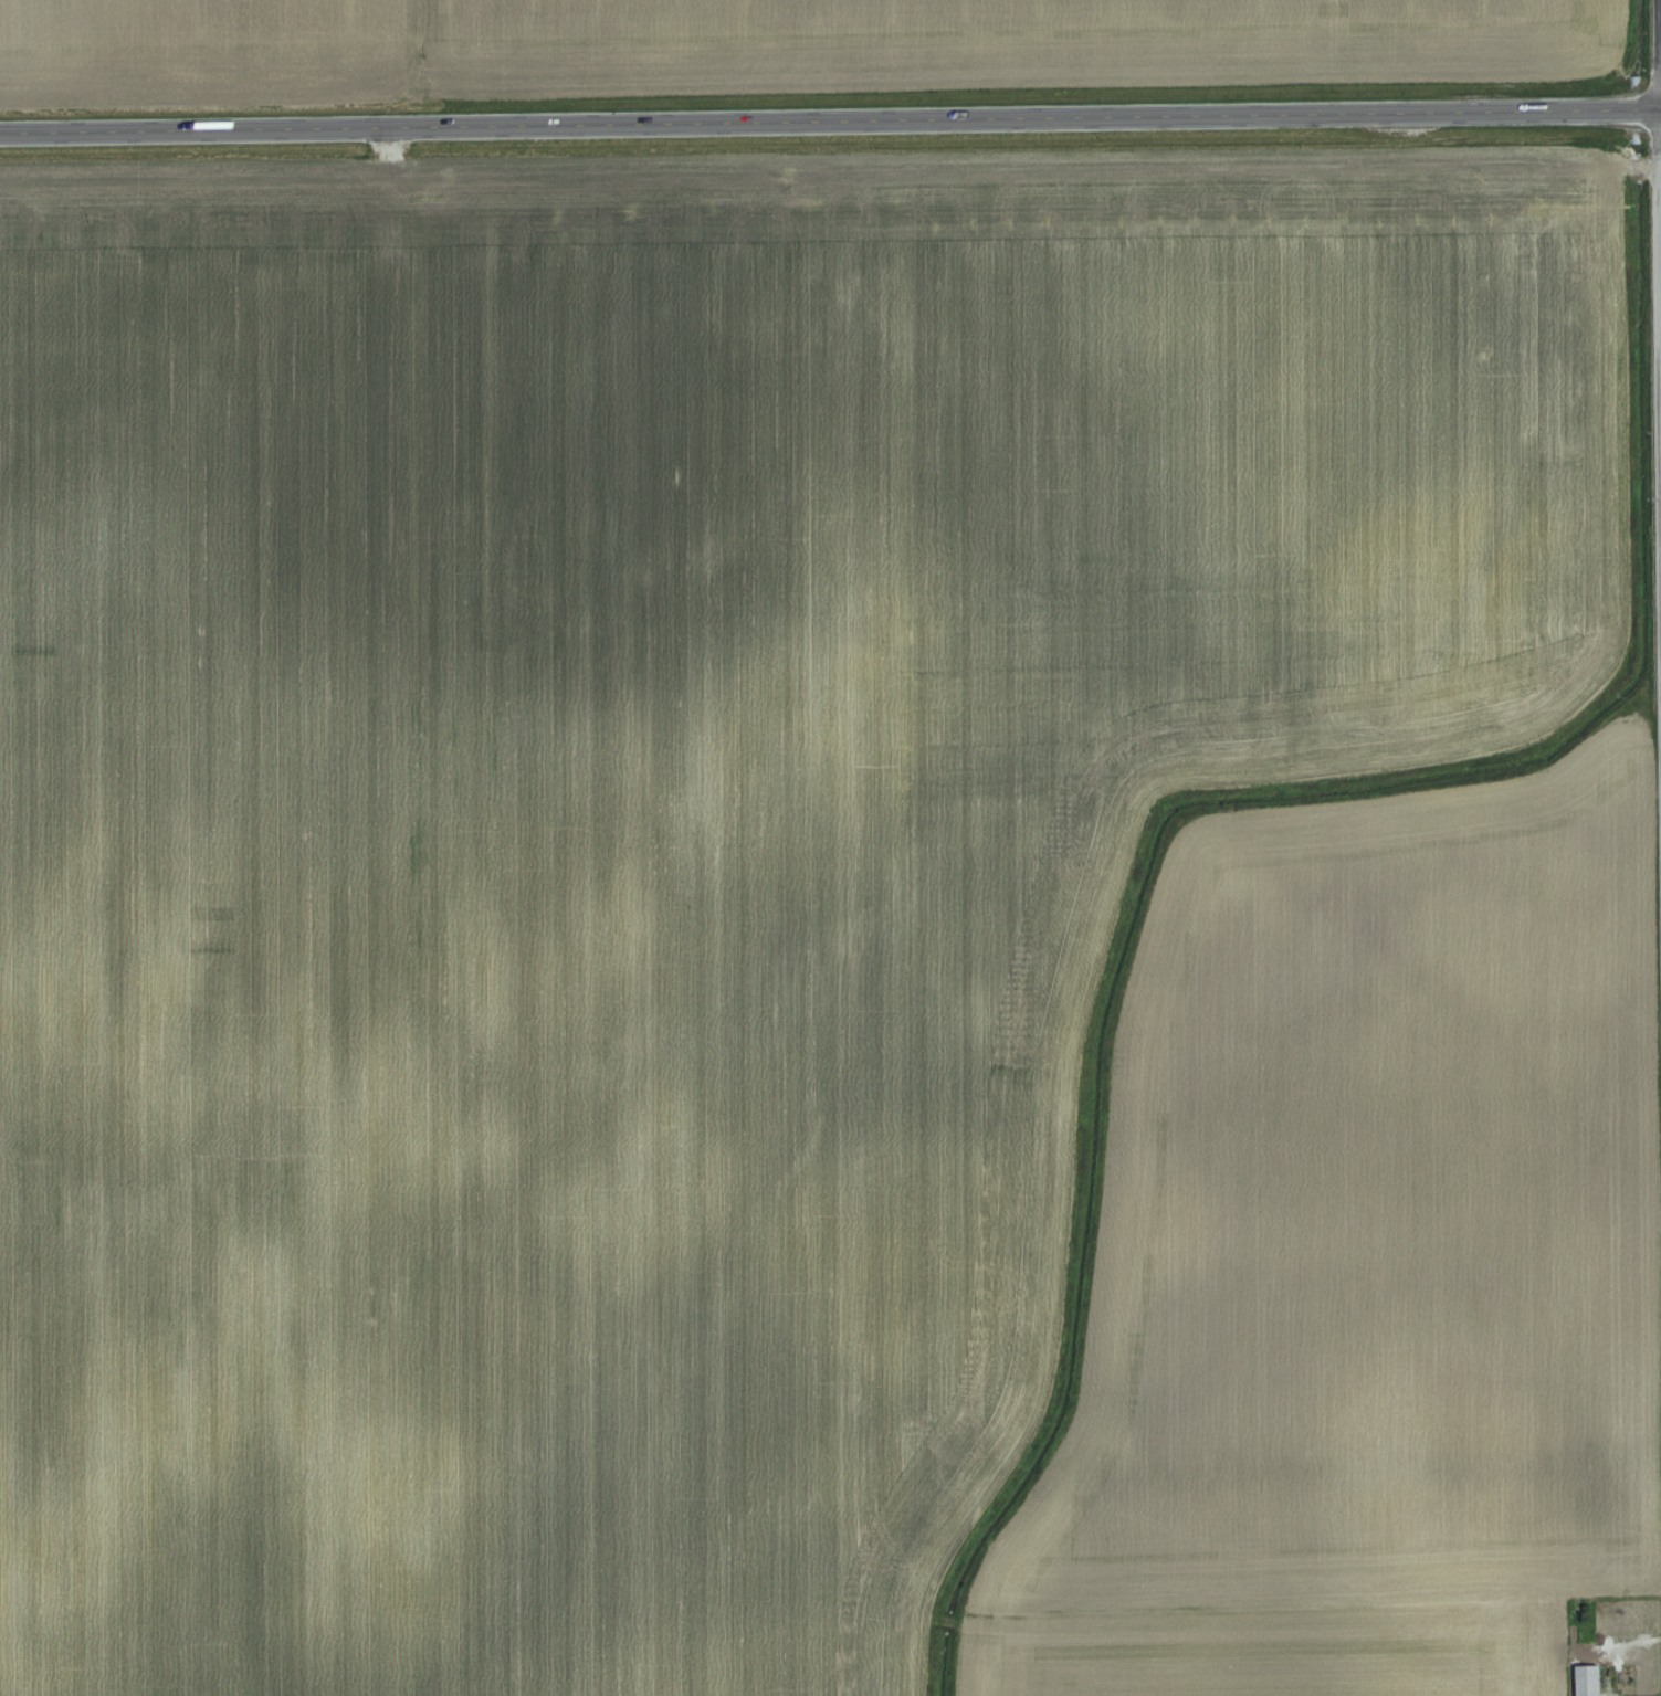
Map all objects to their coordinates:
road: (830, 120)
road: (1657, 366)
building: (1589, 1681)

